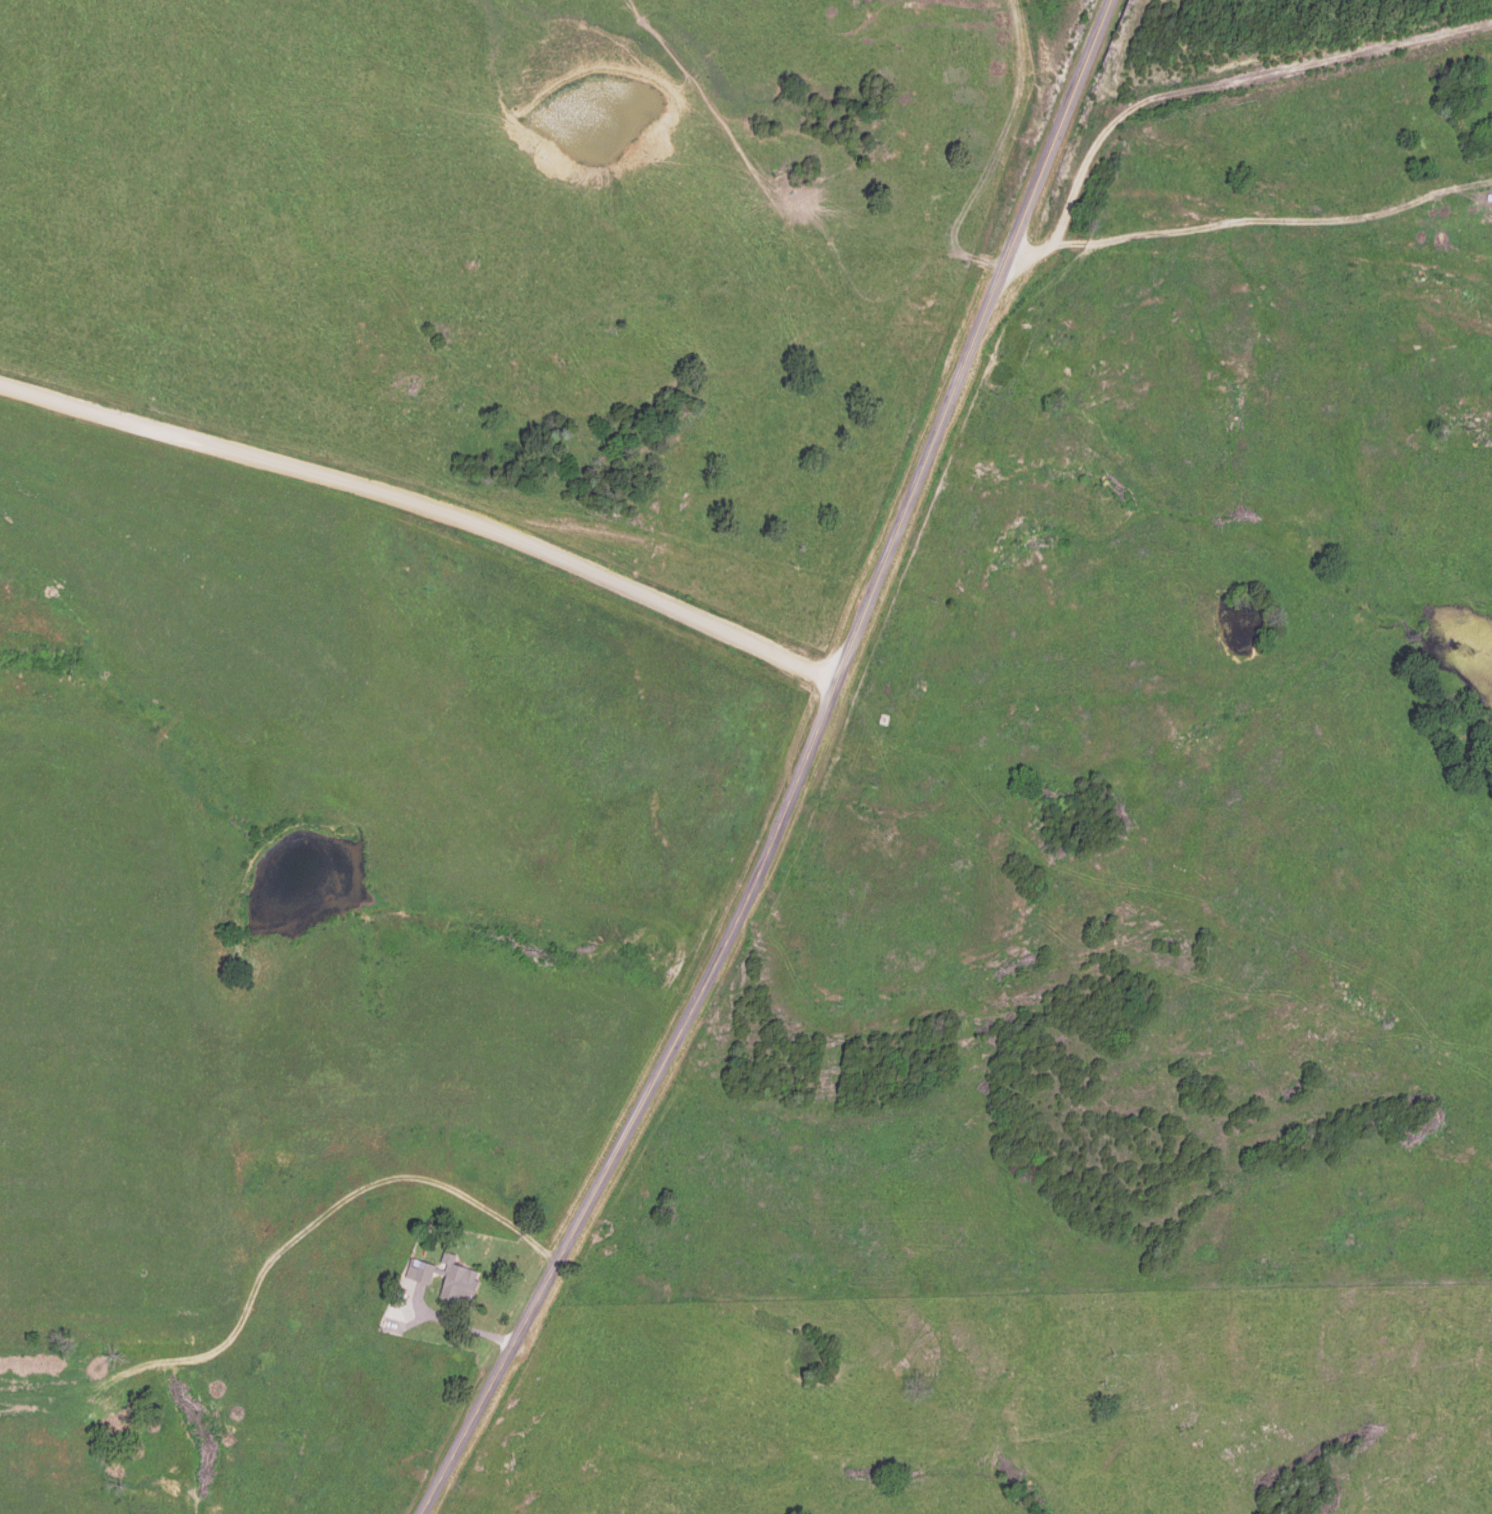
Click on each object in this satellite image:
road: (1200, 88)
road: (418, 543)
road: (796, 772)
road: (464, 1328)

